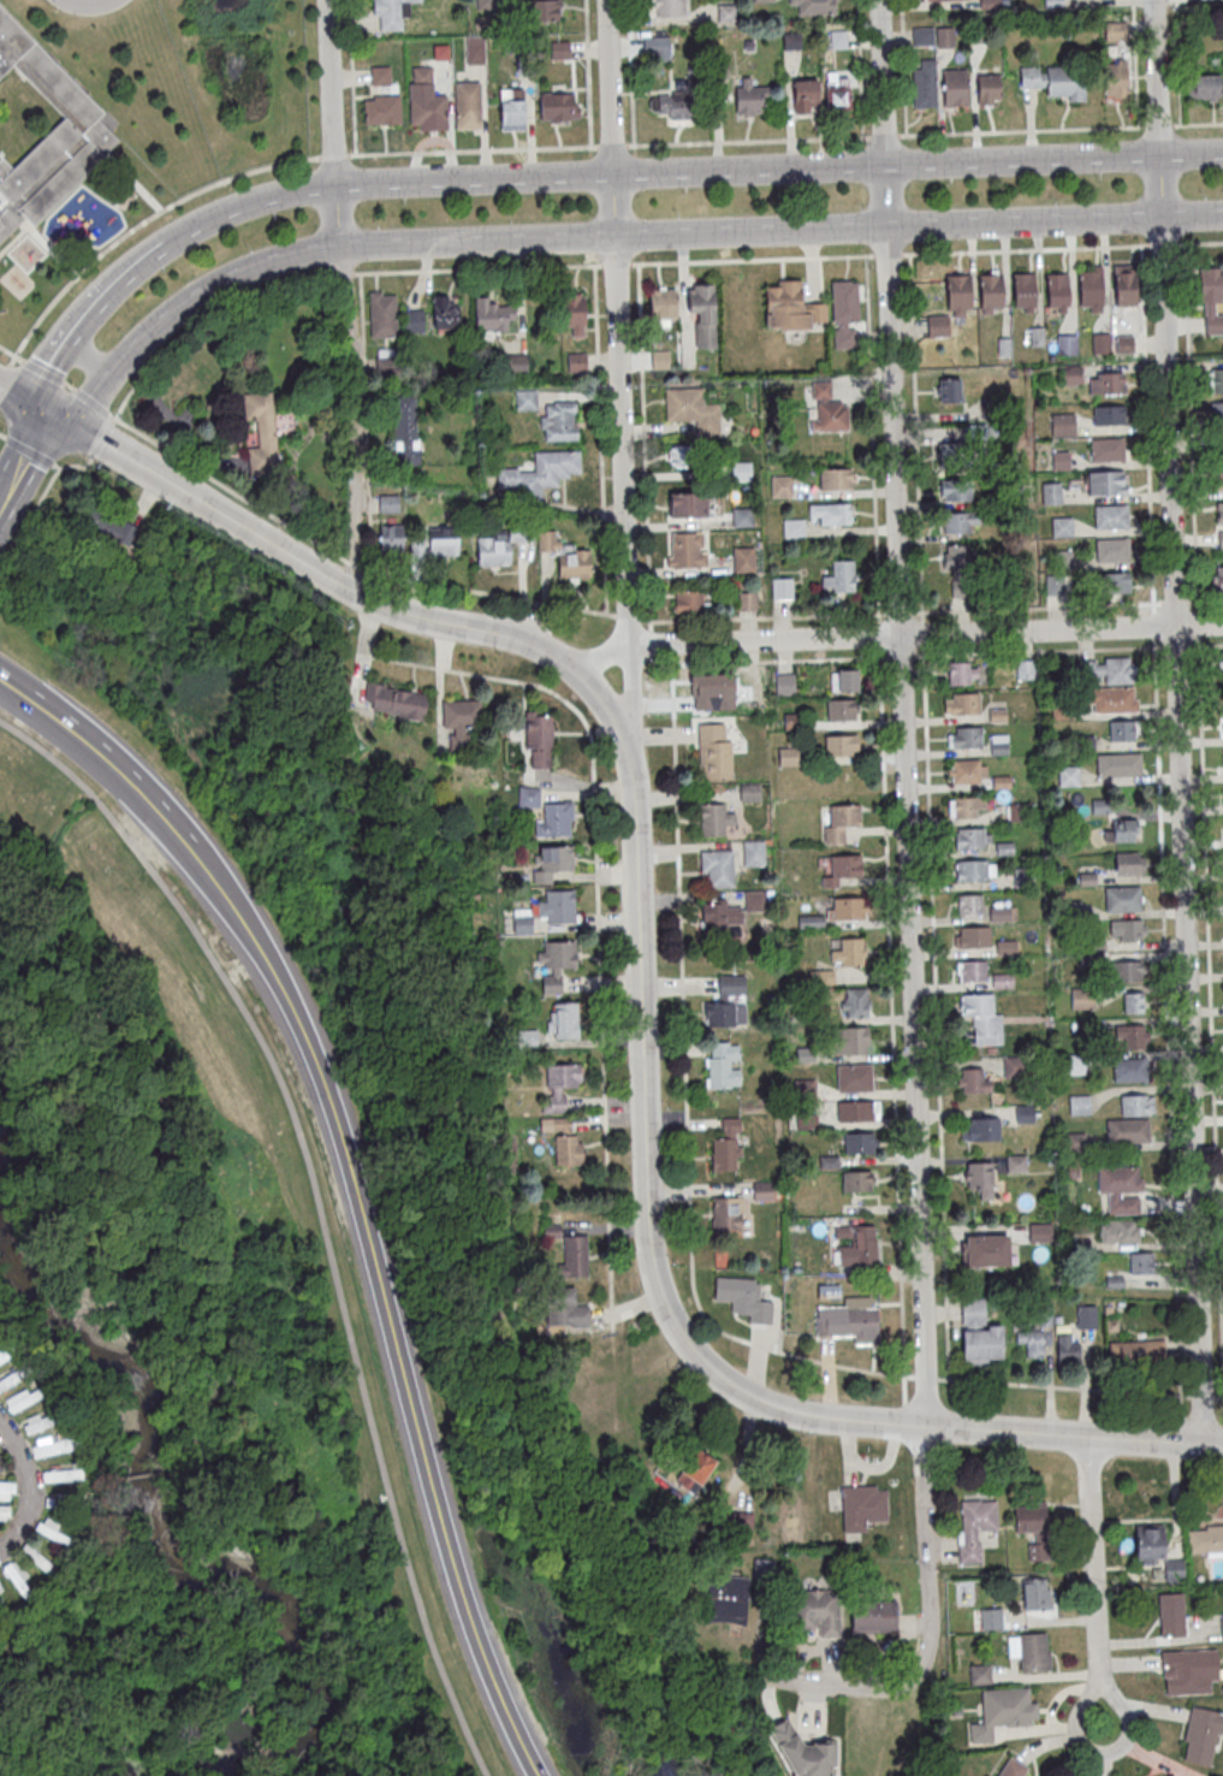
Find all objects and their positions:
building: (761, 0)
building: (938, 0)
road: (82, 1)
building: (990, 2)
building: (1053, 2)
building: (814, 5)
building: (669, 7)
street lamp: (57, 8)
building: (542, 10)
building: (729, 12)
building: (391, 13)
building: (1115, 30)
building: (922, 36)
building: (945, 36)
building: (838, 39)
building: (791, 40)
building: (657, 48)
building: (559, 49)
road: (1134, 63)
road: (1176, 63)
building: (719, 67)
road: (903, 67)
road: (859, 69)
road: (630, 72)
road: (588, 73)
building: (1029, 76)
road: (350, 77)
building: (1117, 77)
building: (1067, 81)
building: (925, 84)
building: (955, 87)
building: (989, 87)
building: (1205, 87)
building: (805, 94)
building: (748, 96)
building: (837, 96)
building: (381, 100)
building: (682, 100)
building: (425, 101)
building: (467, 105)
building: (558, 106)
building: (511, 109)
road: (1200, 124)
road: (1157, 125)
building: (81, 126)
road: (1021, 130)
road: (883, 135)
road: (747, 141)
road: (611, 144)
road: (471, 150)
road: (337, 155)
road: (687, 172)
street lamp: (1097, 179)
street lamp: (949, 184)
street lamp: (817, 189)
street lamp: (1203, 193)
street lamp: (684, 194)
street lamp: (542, 197)
street lamp: (1052, 197)
street lamp: (403, 203)
street lamp: (859, 203)
street lamp: (676, 211)
street lamp: (273, 218)
road: (143, 220)
street lamp: (507, 220)
street lamp: (375, 223)
road: (608, 237)
road: (1200, 243)
road: (1162, 244)
street lamp: (247, 245)
road: (1025, 250)
road: (887, 254)
road: (752, 260)
road: (616, 265)
road: (476, 268)
street lamp: (164, 271)
road: (343, 273)
building: (1210, 284)
building: (1091, 286)
building: (1126, 286)
building: (960, 289)
building: (992, 289)
building: (1025, 289)
building: (1058, 289)
road: (345, 296)
building: (663, 303)
building: (790, 307)
building: (445, 312)
building: (574, 312)
building: (381, 313)
building: (493, 314)
building: (844, 314)
building: (702, 315)
road: (83, 316)
road: (204, 320)
building: (412, 320)
road: (615, 322)
building: (938, 325)
street lamp: (120, 330)
building: (1102, 343)
building: (1067, 344)
road: (93, 350)
road: (7, 351)
building: (659, 359)
building: (576, 362)
building: (516, 363)
road: (7, 368)
building: (1070, 374)
building: (1216, 379)
road: (65, 381)
building: (1106, 383)
building: (949, 390)
road: (24, 399)
building: (526, 399)
building: (693, 409)
building: (826, 409)
traffic signals: (48, 414)
building: (1110, 414)
building: (1217, 415)
building: (558, 420)
road: (364, 422)
building: (1064, 424)
road: (1191, 427)
building: (261, 430)
road: (1147, 430)
building: (405, 432)
road: (915, 437)
road: (599, 439)
road: (872, 439)
road: (100, 444)
road: (30, 448)
road: (643, 448)
building: (1106, 449)
building: (955, 455)
building: (681, 456)
road: (24, 457)
building: (1062, 460)
street lamp: (57, 470)
building: (540, 472)
building: (742, 472)
building: (835, 478)
building: (1219, 478)
building: (1106, 483)
building: (780, 486)
building: (955, 490)
building: (1052, 492)
building: (687, 504)
road: (36, 508)
building: (832, 513)
building: (742, 516)
building: (1110, 516)
building: (958, 521)
building: (1219, 523)
building: (108, 525)
building: (1063, 526)
building: (792, 527)
building: (391, 538)
building: (546, 539)
building: (443, 543)
building: (498, 545)
building: (685, 549)
building: (1112, 550)
building: (744, 560)
building: (1064, 560)
road: (345, 561)
building: (574, 564)
building: (961, 573)
building: (839, 578)
building: (1219, 579)
building: (1115, 582)
building: (1055, 585)
building: (780, 588)
building: (747, 600)
building: (688, 602)
road: (1205, 602)
road: (1175, 603)
road: (1037, 608)
road: (900, 614)
road: (627, 618)
road: (764, 618)
road: (1152, 626)
road: (1197, 626)
road: (921, 633)
road: (924, 634)
road: (878, 635)
road: (660, 641)
road: (1205, 645)
road: (1176, 646)
road: (1038, 651)
road: (363, 653)
road: (600, 657)
road: (901, 657)
road: (779, 661)
building: (1221, 661)
building: (1025, 669)
building: (1108, 670)
building: (961, 673)
building: (845, 680)
building: (712, 683)
building: (784, 683)
building: (1111, 699)
building: (394, 700)
building: (961, 703)
building: (842, 709)
road: (901, 712)
building: (459, 717)
road: (629, 717)
road: (1176, 722)
building: (1222, 726)
building: (536, 729)
building: (1123, 729)
building: (964, 736)
building: (998, 744)
building: (841, 746)
building: (713, 750)
building: (786, 756)
building: (1118, 764)
building: (967, 770)
road: (119, 771)
building: (1068, 775)
building: (528, 797)
building: (967, 806)
building: (713, 818)
building: (554, 819)
building: (839, 822)
building: (1121, 829)
building: (972, 837)
building: (753, 852)
building: (550, 862)
building: (1127, 863)
building: (717, 866)
building: (843, 866)
building: (974, 869)
building: (1122, 898)
building: (755, 900)
building: (968, 902)
road: (595, 906)
building: (845, 908)
building: (541, 912)
building: (720, 916)
building: (1127, 930)
building: (973, 935)
building: (849, 953)
building: (554, 964)
building: (1126, 970)
building: (970, 971)
road: (639, 989)
building: (1081, 999)
building: (1133, 1001)
building: (728, 1002)
building: (855, 1002)
road: (934, 1013)
building: (982, 1016)
building: (563, 1019)
road: (1210, 1019)
road: (891, 1026)
building: (1130, 1036)
building: (527, 1037)
building: (850, 1040)
road: (1166, 1041)
building: (1073, 1064)
building: (723, 1065)
building: (1129, 1070)
building: (855, 1077)
building: (973, 1079)
building: (559, 1084)
road: (685, 1096)
building: (1079, 1103)
building: (1135, 1105)
building: (855, 1111)
building: (1023, 1113)
building: (979, 1127)
building: (1128, 1130)
building: (566, 1143)
building: (861, 1143)
building: (726, 1145)
building: (979, 1178)
building: (856, 1180)
building: (1120, 1188)
building: (762, 1191)
road: (316, 1208)
building: (726, 1212)
park: (291, 1229)
building: (1118, 1231)
building: (1040, 1232)
road: (100, 1243)
building: (855, 1244)
building: (986, 1249)
building: (572, 1255)
building: (1141, 1262)
building: (743, 1297)
building: (564, 1308)
building: (1086, 1315)
building: (850, 1322)
road: (387, 1326)
building: (979, 1333)
building: (1031, 1340)
building: (1067, 1345)
building: (1135, 1350)
building: (2, 1352)
building: (8, 1379)
road: (925, 1379)
road: (1063, 1386)
road: (1201, 1396)
building: (22, 1398)
road: (1217, 1398)
road: (904, 1415)
building: (36, 1422)
building: (51, 1444)
building: (1, 1466)
building: (694, 1470)
building: (57, 1474)
building: (7, 1488)
road: (29, 1488)
building: (59, 1499)
building: (862, 1505)
building: (5, 1511)
road: (342, 1515)
building: (1029, 1517)
building: (740, 1521)
building: (974, 1527)
river: (162, 1539)
building: (1205, 1539)
building: (1154, 1550)
building: (37, 1559)
building: (18, 1579)
road: (1093, 1581)
building: (1035, 1593)
building: (724, 1599)
building: (1, 1609)
building: (815, 1611)
building: (1170, 1614)
building: (872, 1616)
building: (991, 1617)
road: (928, 1620)
building: (1222, 1628)
building: (1029, 1650)
road: (340, 1669)
building: (1185, 1670)
building: (979, 1674)
building: (1002, 1712)
road: (339, 1729)
building: (1201, 1735)
building: (802, 1752)
building: (1013, 1768)

